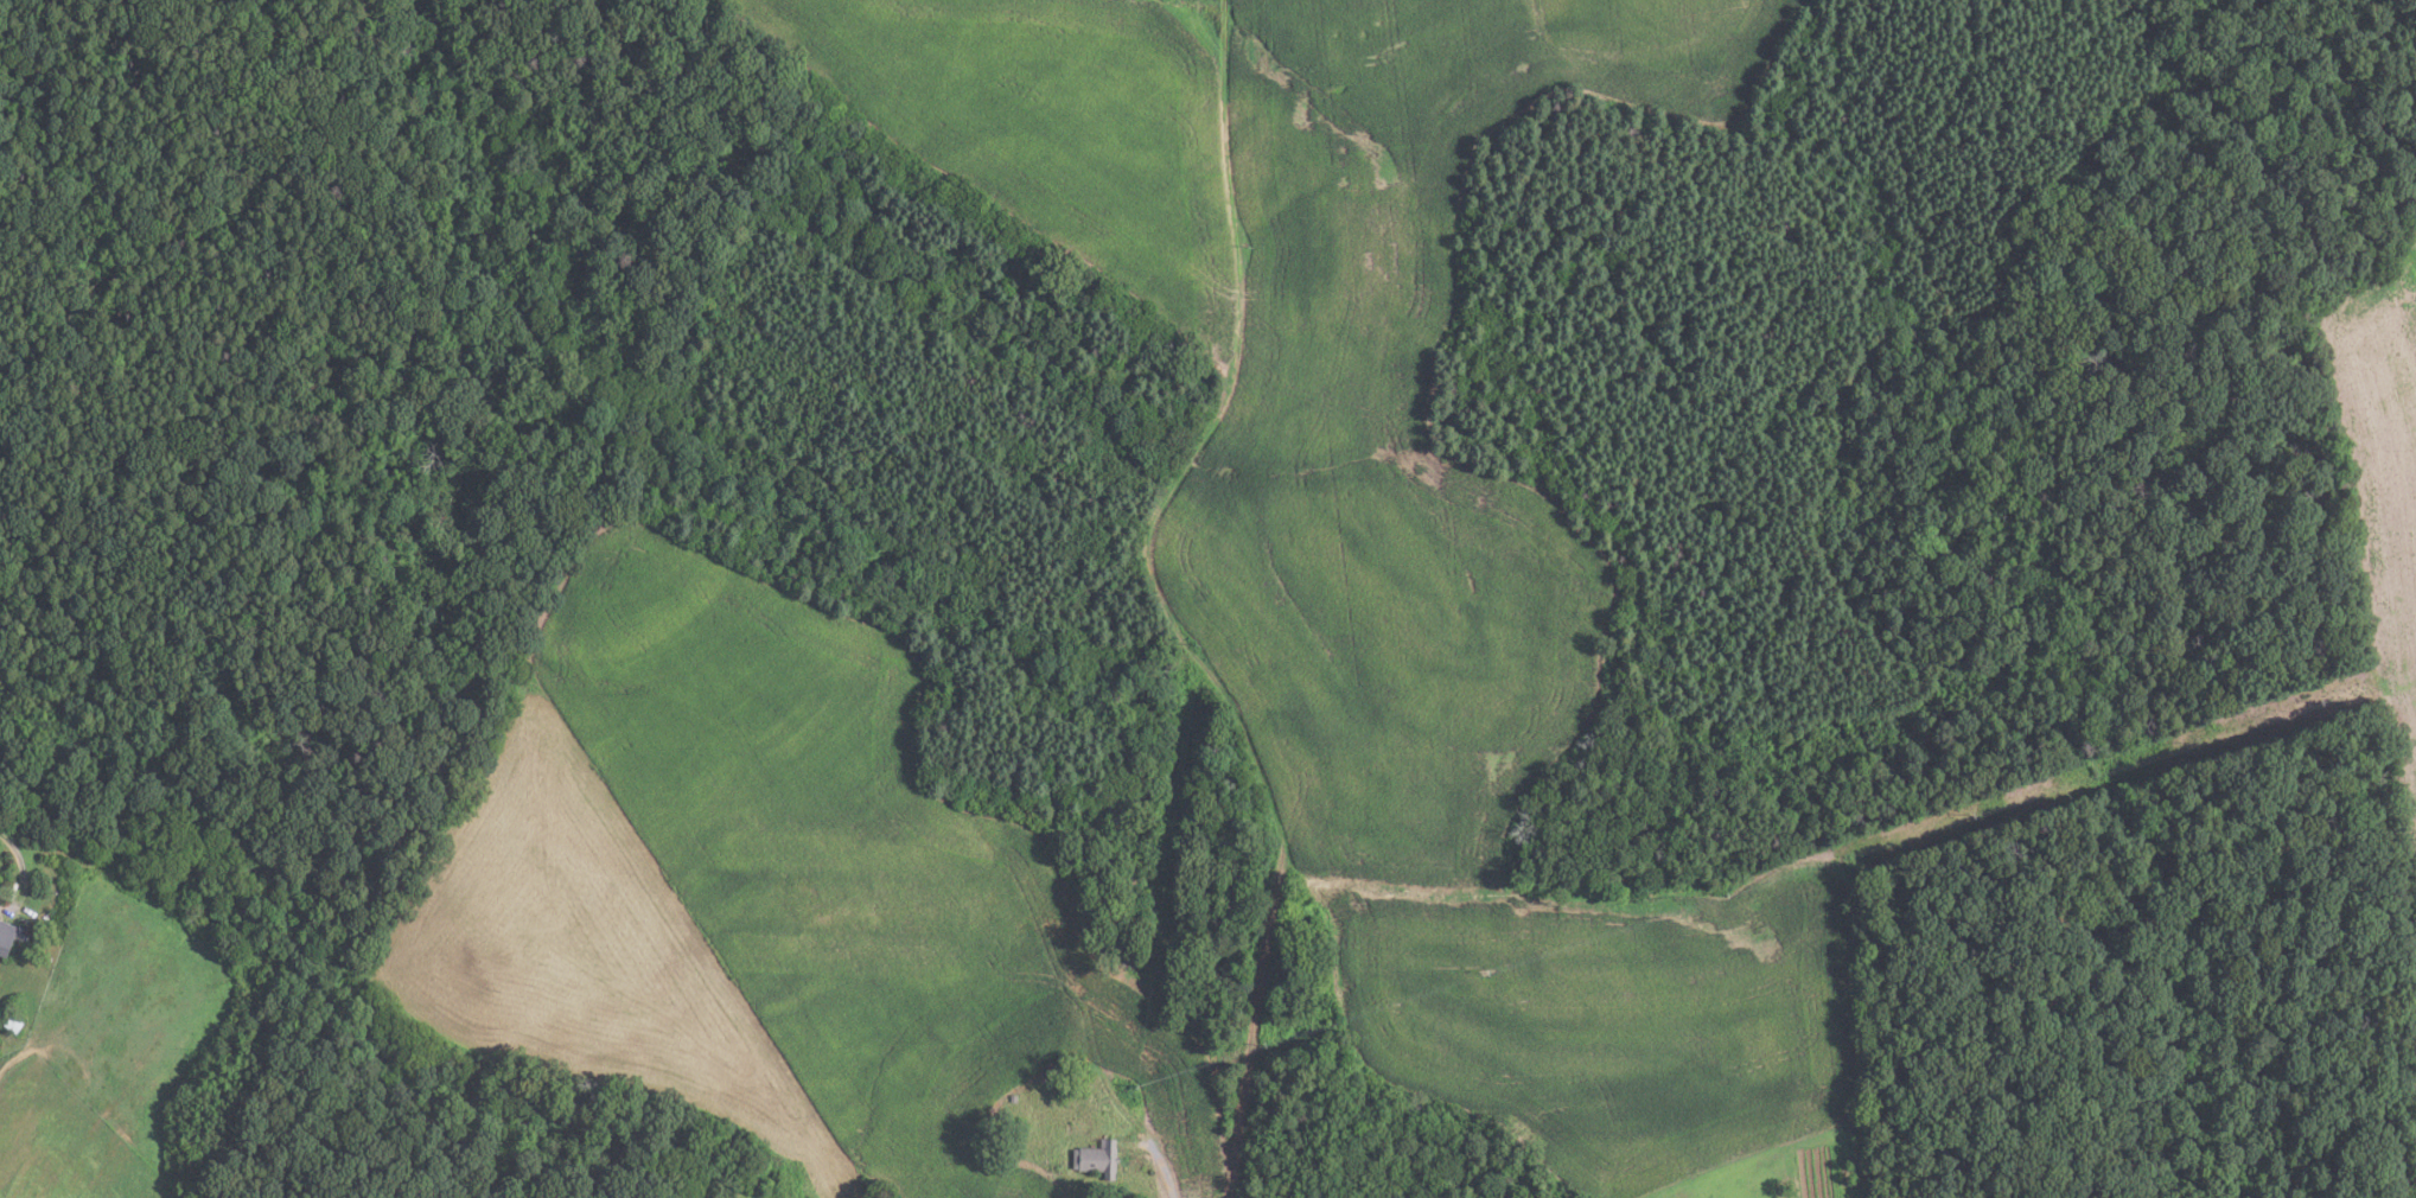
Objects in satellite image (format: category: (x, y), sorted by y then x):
crop: (2380, 477)
crop: (1383, 518)
road: (1162, 601)
road: (23, 875)
building: (7, 937)
building: (13, 1024)
building: (1014, 1098)
building: (1099, 1159)
road: (1159, 1159)
crop: (2414, 1189)

